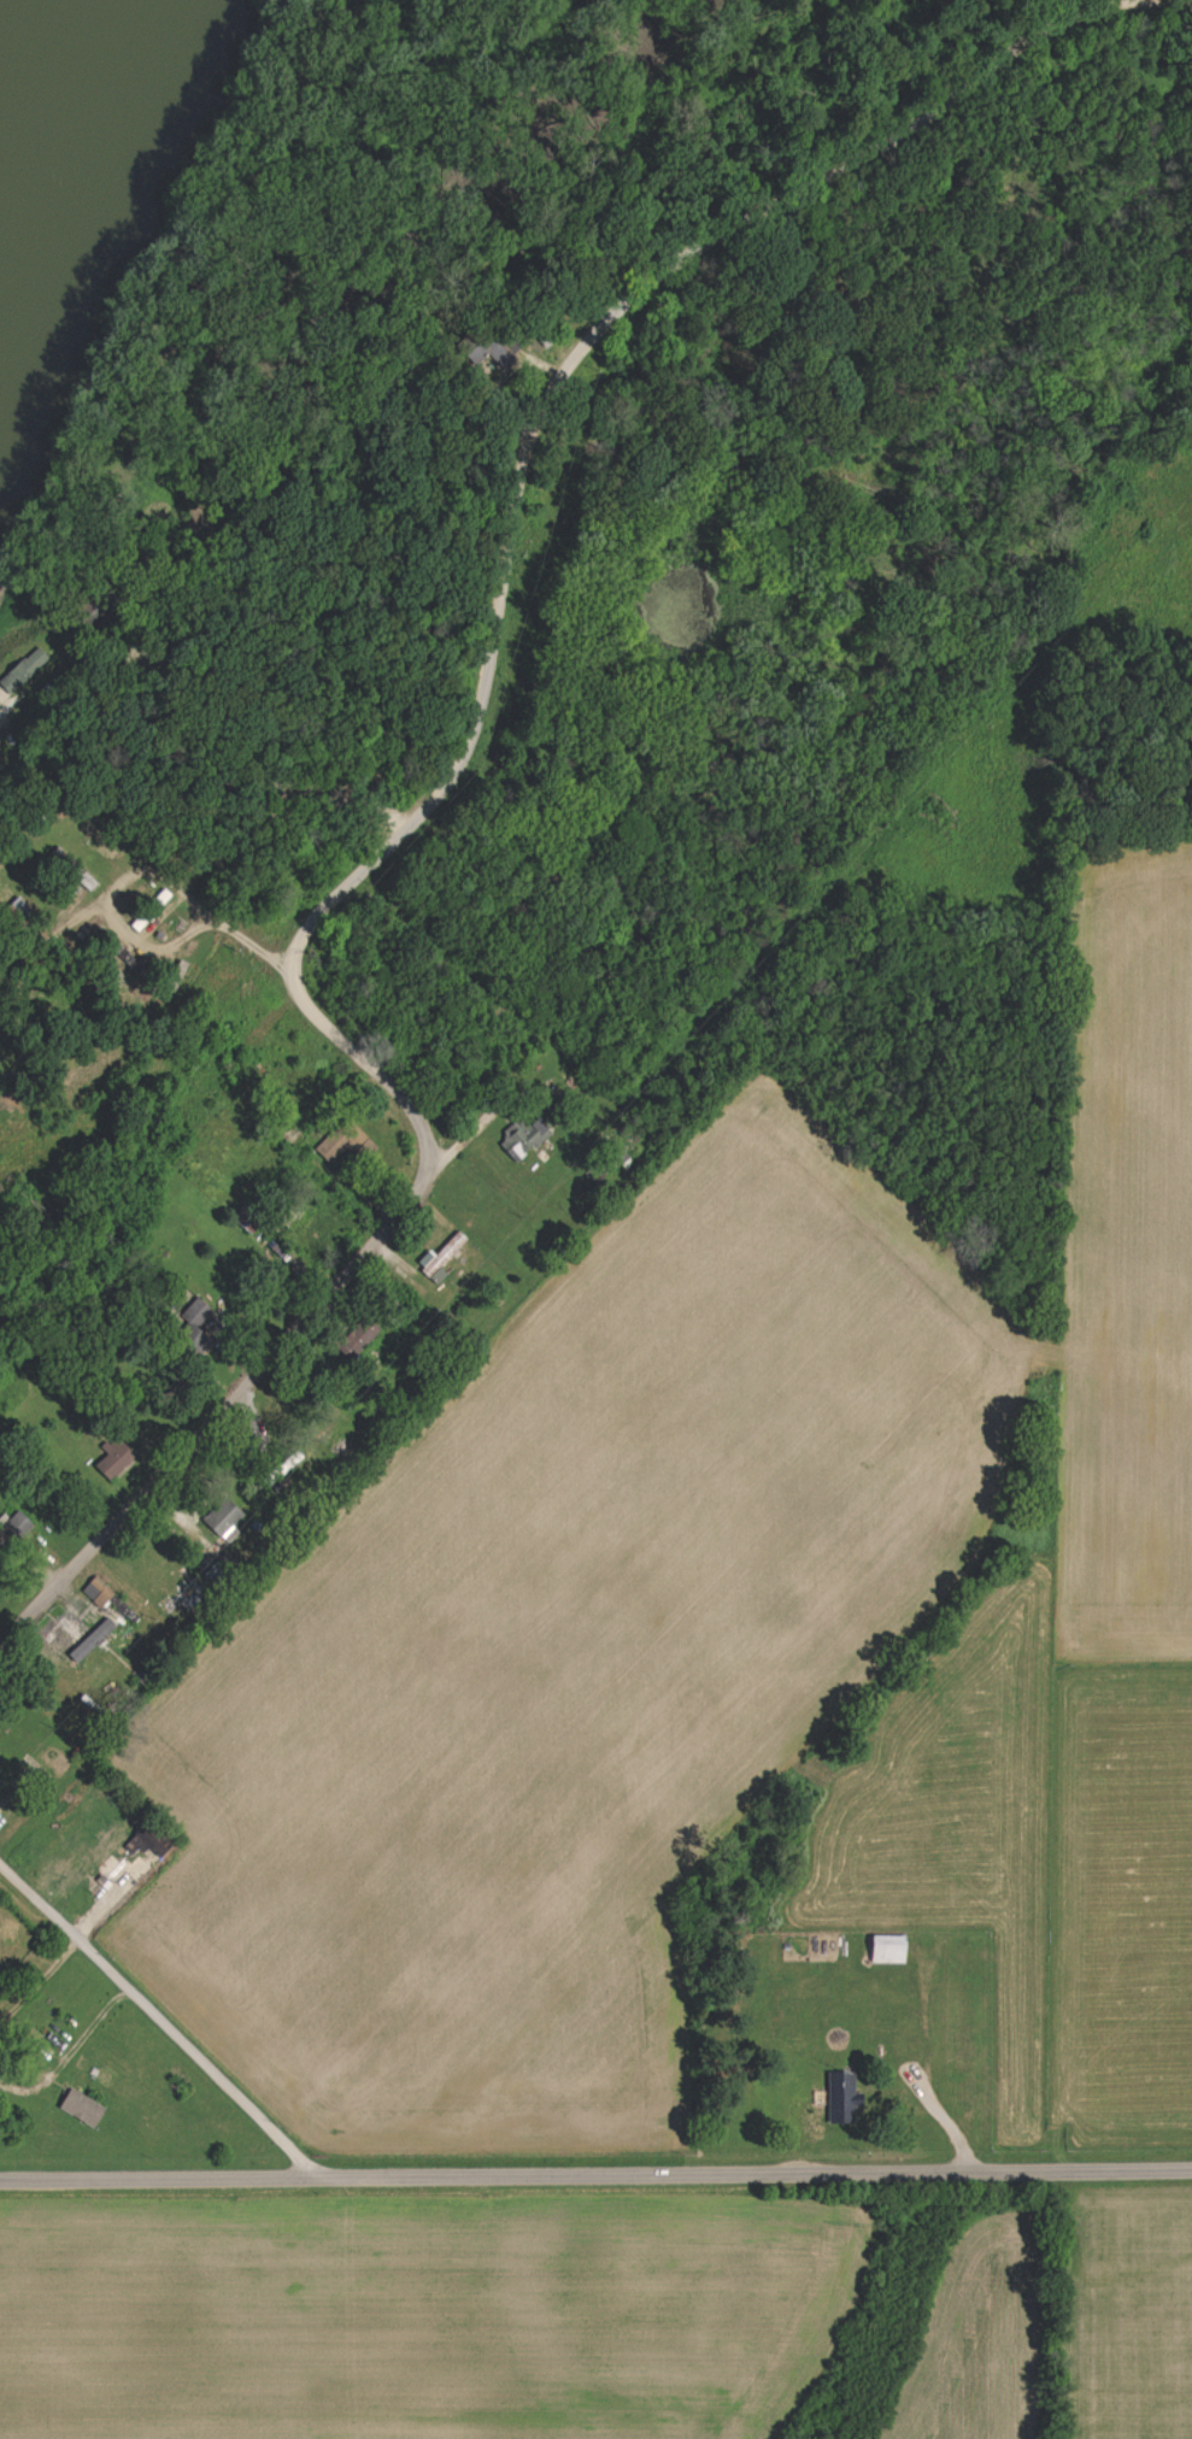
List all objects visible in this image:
river: (81, 184)
building: (494, 352)
road: (571, 357)
road: (61, 646)
building: (25, 672)
building: (0, 707)
road: (365, 1059)
building: (527, 1138)
building: (347, 1146)
building: (442, 1259)
building: (200, 1318)
building: (360, 1340)
road: (221, 1412)
building: (224, 1518)
building: (17, 1529)
building: (99, 1594)
building: (65, 1639)
building: (154, 1843)
building: (891, 1951)
road: (40, 1980)
road: (159, 2018)
building: (842, 2097)
building: (84, 2110)
road: (595, 2174)

